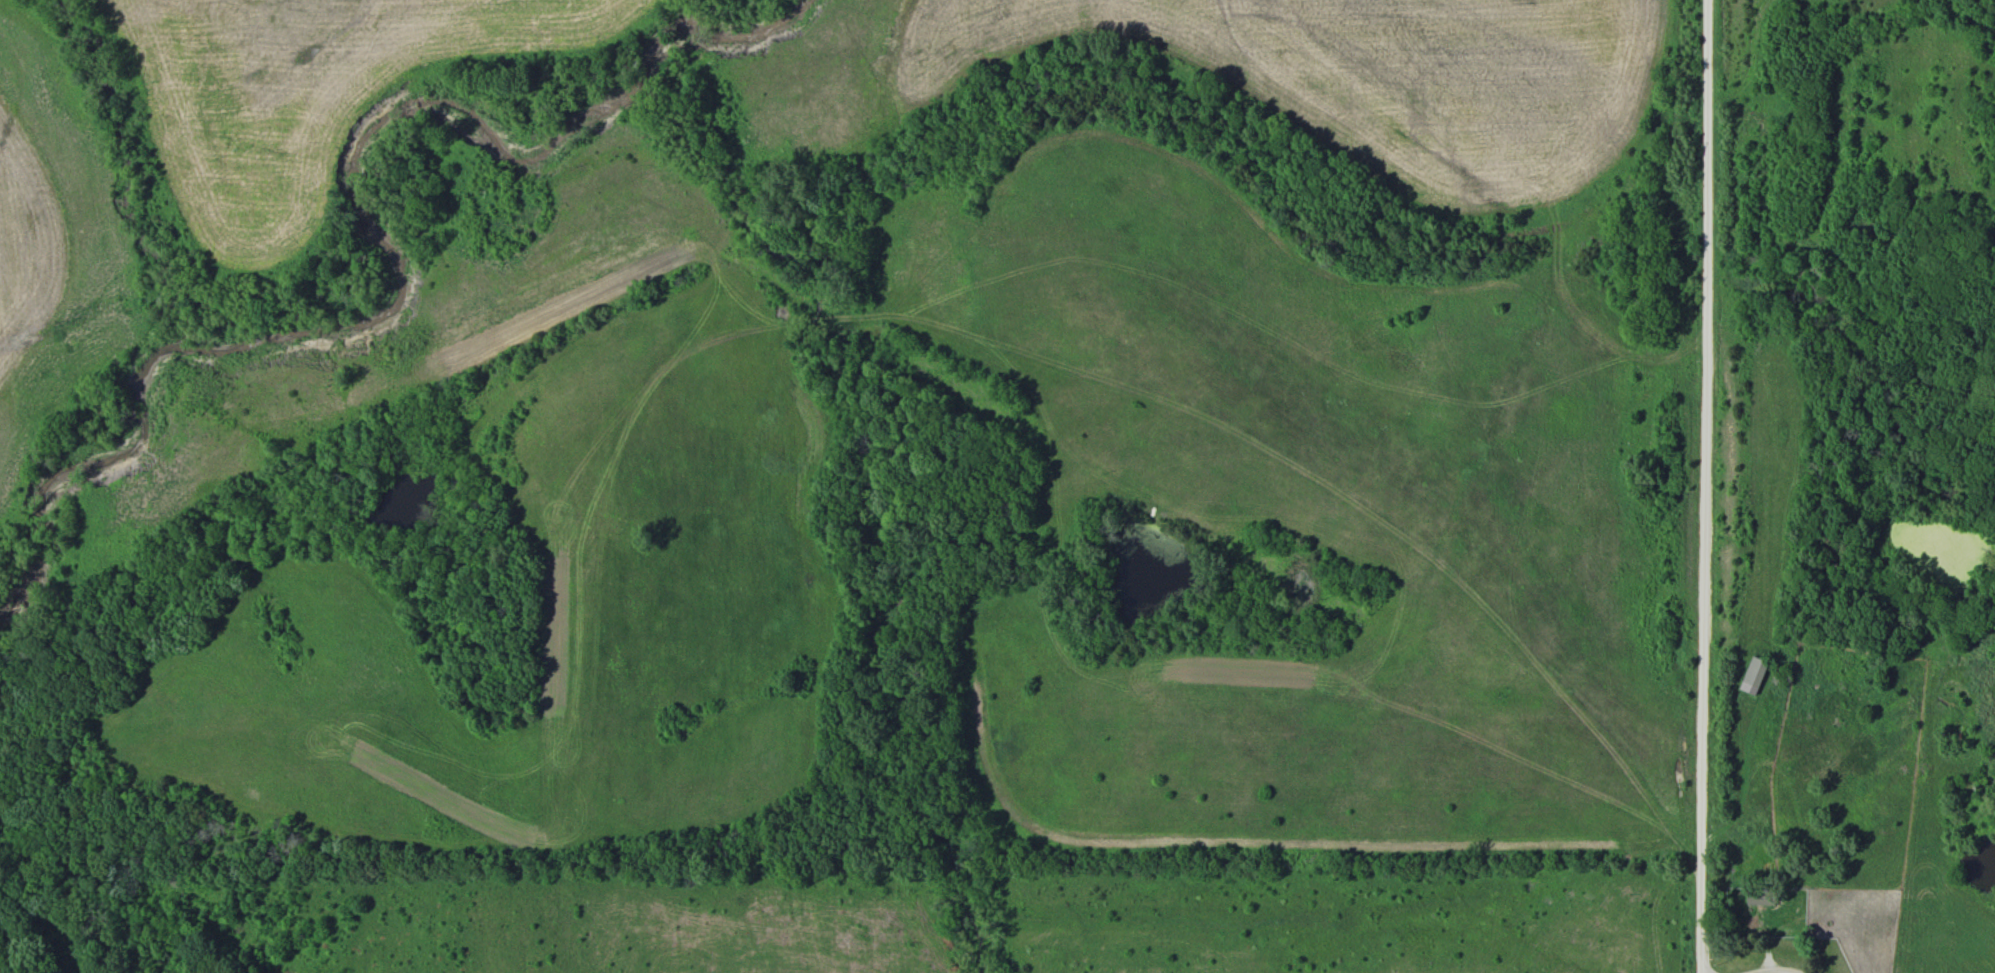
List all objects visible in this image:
road: (1707, 486)
building: (1750, 675)
building: (1757, 896)

